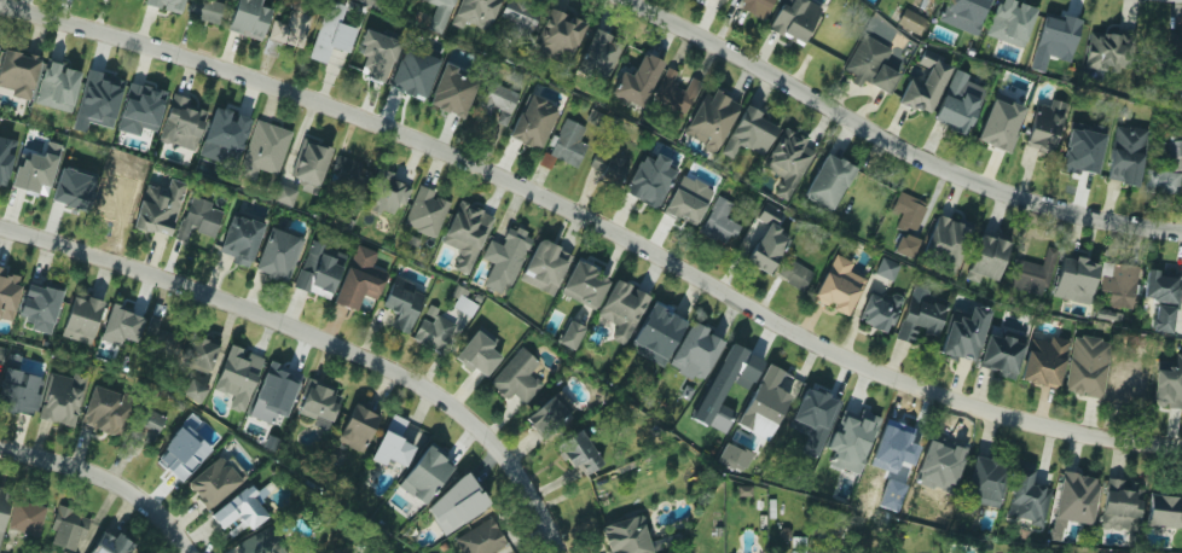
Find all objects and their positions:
building: (166, 4)
building: (482, 5)
building: (754, 7)
building: (208, 10)
building: (440, 14)
building: (966, 14)
building: (517, 17)
building: (789, 17)
building: (250, 18)
building: (1019, 19)
building: (910, 21)
building: (295, 25)
building: (332, 33)
building: (1061, 34)
building: (557, 36)
building: (1175, 41)
building: (828, 43)
building: (1106, 51)
building: (372, 53)
building: (599, 53)
building: (870, 65)
building: (416, 70)
building: (17, 71)
building: (631, 71)
building: (58, 80)
building: (674, 91)
building: (452, 92)
building: (100, 94)
building: (909, 94)
building: (143, 97)
building: (496, 99)
building: (952, 112)
building: (709, 113)
building: (533, 122)
building: (992, 122)
building: (182, 123)
building: (226, 126)
building: (746, 129)
building: (1043, 130)
building: (567, 144)
road: (894, 146)
building: (1176, 149)
building: (262, 150)
building: (1077, 153)
building: (307, 158)
building: (788, 162)
building: (1122, 165)
building: (33, 170)
building: (613, 171)
building: (0, 173)
building: (347, 174)
building: (827, 175)
building: (647, 179)
building: (1161, 181)
building: (74, 192)
building: (867, 193)
building: (285, 194)
building: (386, 196)
building: (109, 200)
building: (688, 203)
building: (155, 211)
building: (425, 213)
building: (908, 213)
building: (202, 219)
road: (595, 220)
building: (719, 223)
building: (462, 227)
building: (239, 239)
building: (943, 239)
building: (906, 245)
building: (991, 245)
building: (758, 246)
building: (278, 255)
building: (503, 258)
building: (887, 268)
building: (1074, 270)
building: (794, 274)
building: (540, 275)
building: (1024, 276)
building: (312, 278)
building: (358, 280)
building: (584, 285)
building: (1118, 285)
building: (838, 286)
building: (6, 289)
building: (1161, 299)
building: (34, 301)
building: (402, 303)
building: (467, 305)
building: (622, 309)
building: (879, 312)
building: (81, 318)
building: (919, 319)
building: (121, 325)
building: (662, 330)
building: (433, 333)
building: (572, 334)
building: (161, 336)
road: (317, 337)
building: (956, 337)
building: (475, 351)
building: (696, 353)
building: (199, 354)
building: (1001, 354)
building: (0, 357)
building: (738, 363)
building: (239, 366)
building: (1084, 369)
building: (1038, 372)
building: (684, 379)
building: (1126, 379)
building: (512, 385)
building: (772, 390)
building: (195, 391)
building: (18, 392)
building: (274, 396)
building: (1166, 398)
building: (319, 402)
building: (59, 404)
building: (813, 404)
building: (104, 411)
building: (546, 419)
building: (151, 425)
building: (358, 425)
building: (852, 432)
building: (816, 437)
building: (891, 442)
building: (400, 443)
building: (176, 452)
building: (579, 454)
building: (734, 456)
building: (932, 464)
building: (427, 470)
road: (108, 479)
building: (985, 481)
building: (214, 482)
building: (1074, 488)
building: (744, 490)
building: (602, 491)
building: (454, 499)
building: (1026, 499)
building: (1, 503)
building: (1114, 503)
building: (244, 510)
building: (1164, 512)
building: (28, 519)
building: (68, 530)
building: (624, 536)
building: (480, 539)
building: (262, 542)
building: (109, 543)
building: (799, 551)
building: (64, 552)

